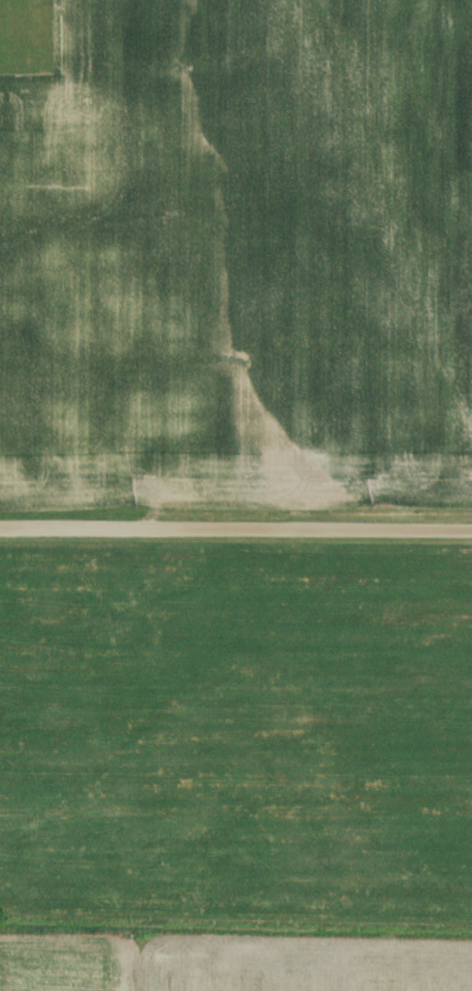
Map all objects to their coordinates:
road: (236, 532)

